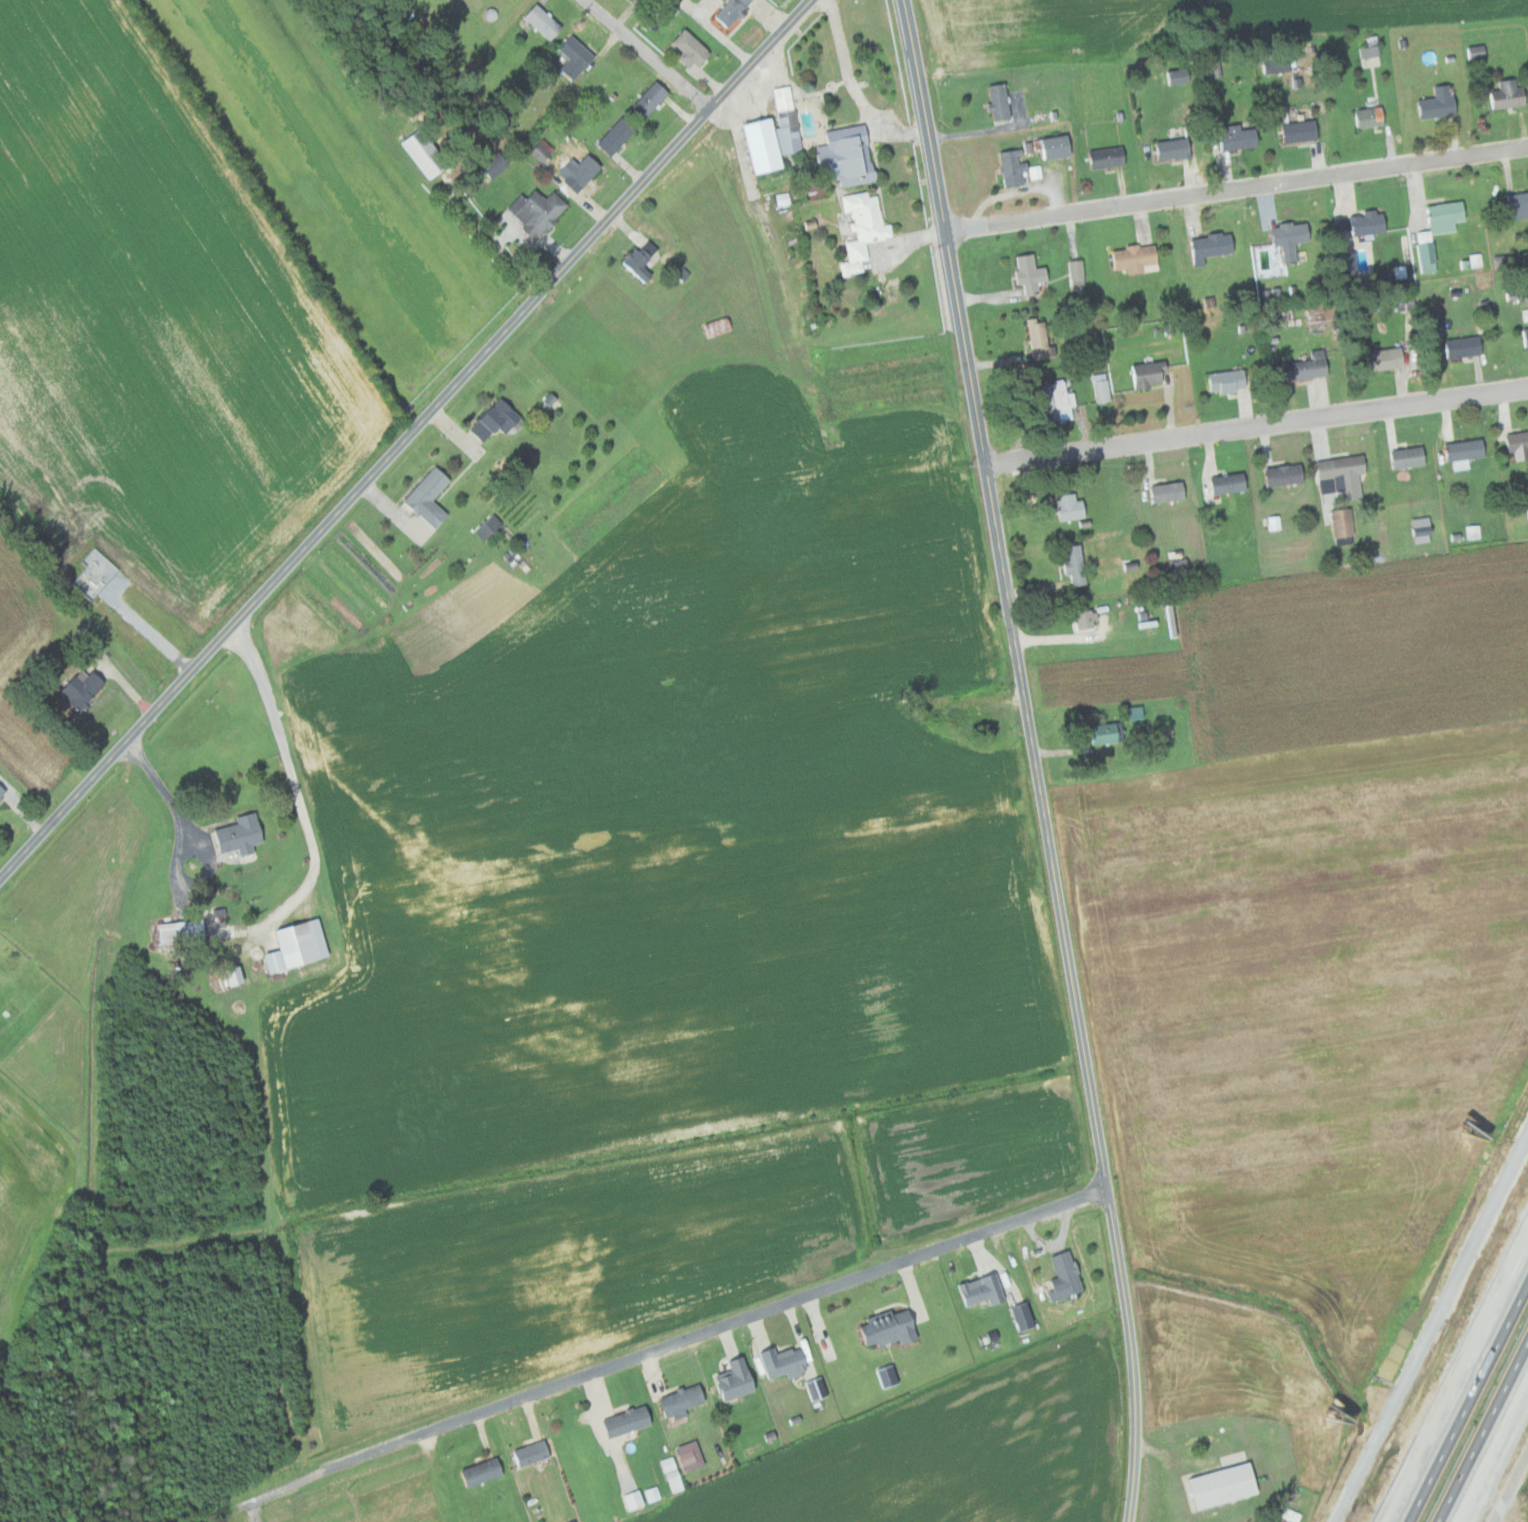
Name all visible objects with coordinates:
building: (635, 0)
building: (719, 0)
building: (727, 11)
building: (540, 21)
building: (685, 48)
building: (1366, 51)
road: (650, 53)
building: (571, 57)
building: (1206, 67)
building: (1173, 76)
road: (853, 87)
building: (1504, 95)
building: (645, 100)
building: (994, 102)
building: (1432, 104)
building: (1363, 117)
building: (784, 120)
building: (1295, 131)
road: (688, 132)
building: (611, 137)
building: (1231, 138)
building: (757, 145)
building: (1050, 146)
building: (1167, 149)
building: (844, 155)
building: (1101, 157)
building: (489, 165)
building: (1008, 169)
building: (575, 172)
road: (1237, 188)
building: (1516, 204)
building: (536, 212)
building: (1358, 223)
building: (859, 229)
building: (1432, 231)
building: (1285, 239)
building: (1205, 247)
building: (1129, 258)
building: (636, 259)
building: (1471, 261)
building: (1073, 273)
building: (1026, 274)
road: (959, 308)
building: (715, 326)
building: (1035, 338)
building: (1523, 338)
building: (1457, 347)
building: (1376, 359)
building: (1297, 369)
building: (1142, 375)
building: (1221, 381)
building: (1098, 387)
building: (1051, 401)
building: (498, 419)
road: (1257, 424)
building: (1515, 444)
building: (1459, 450)
building: (1403, 457)
building: (1278, 475)
building: (1337, 476)
building: (1224, 483)
building: (1163, 492)
building: (432, 495)
building: (1065, 507)
building: (1525, 518)
building: (1338, 522)
building: (1417, 530)
building: (1470, 531)
building: (1071, 564)
road: (282, 569)
building: (1082, 619)
building: (86, 687)
building: (1102, 732)
building: (3, 791)
road: (297, 792)
building: (243, 834)
road: (187, 840)
road: (1059, 902)
building: (184, 930)
building: (301, 945)
building: (1059, 1276)
building: (976, 1289)
building: (1018, 1316)
building: (894, 1328)
road: (709, 1330)
road: (1432, 1330)
road: (1133, 1354)
building: (787, 1362)
building: (891, 1376)
building: (738, 1378)
road: (1465, 1396)
building: (684, 1400)
building: (630, 1421)
road: (1488, 1439)
building: (535, 1453)
building: (693, 1455)
building: (485, 1471)
building: (674, 1473)
building: (1215, 1485)
road: (1509, 1485)
road: (274, 1491)
building: (654, 1493)
building: (636, 1499)

